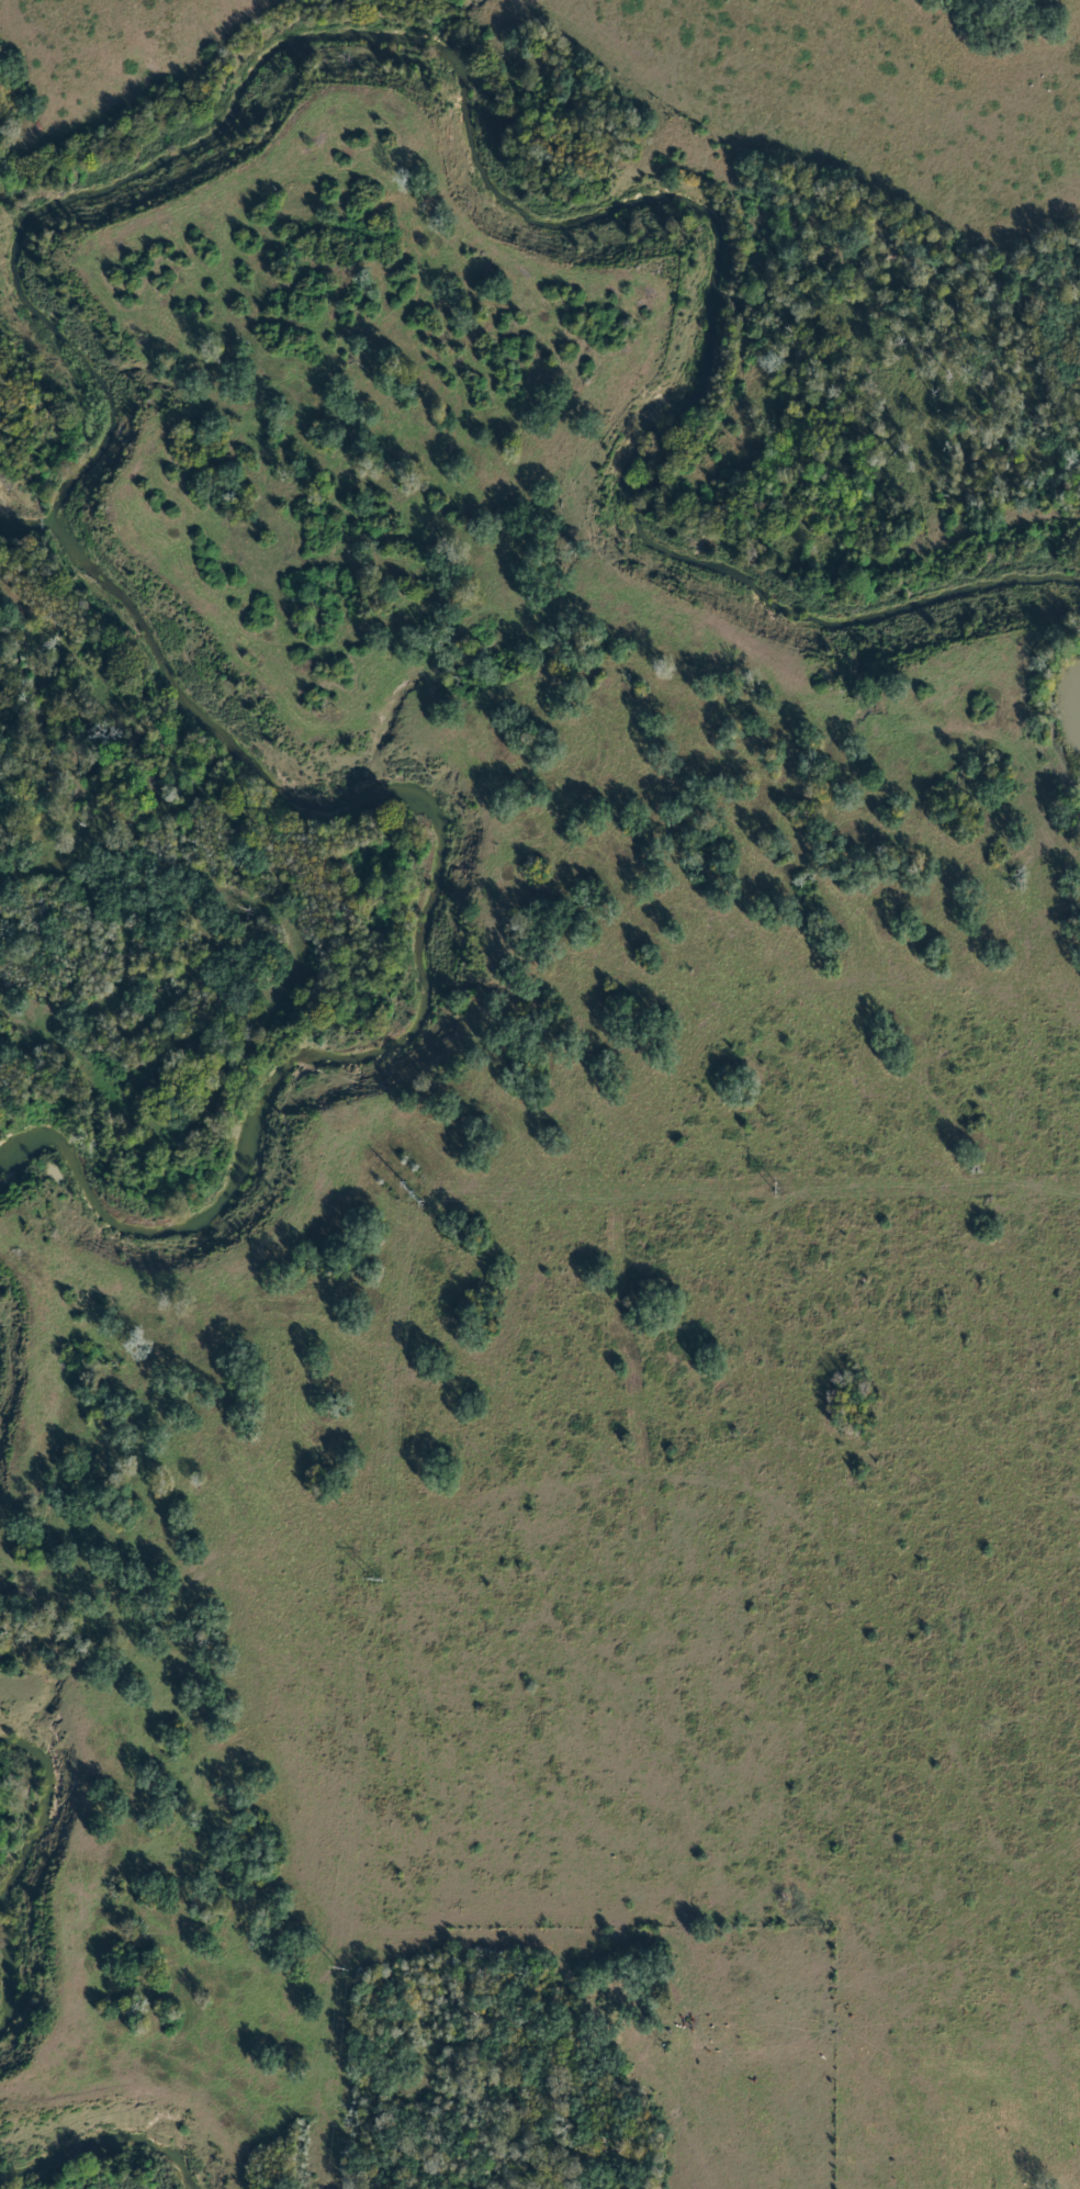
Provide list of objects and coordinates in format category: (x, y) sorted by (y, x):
river: (32, 199)
power tower: (776, 1189)
power tower: (412, 1191)
river: (8, 1382)
power tower: (374, 1579)
river: (15, 1897)
power tower: (340, 1967)
river: (33, 2185)

